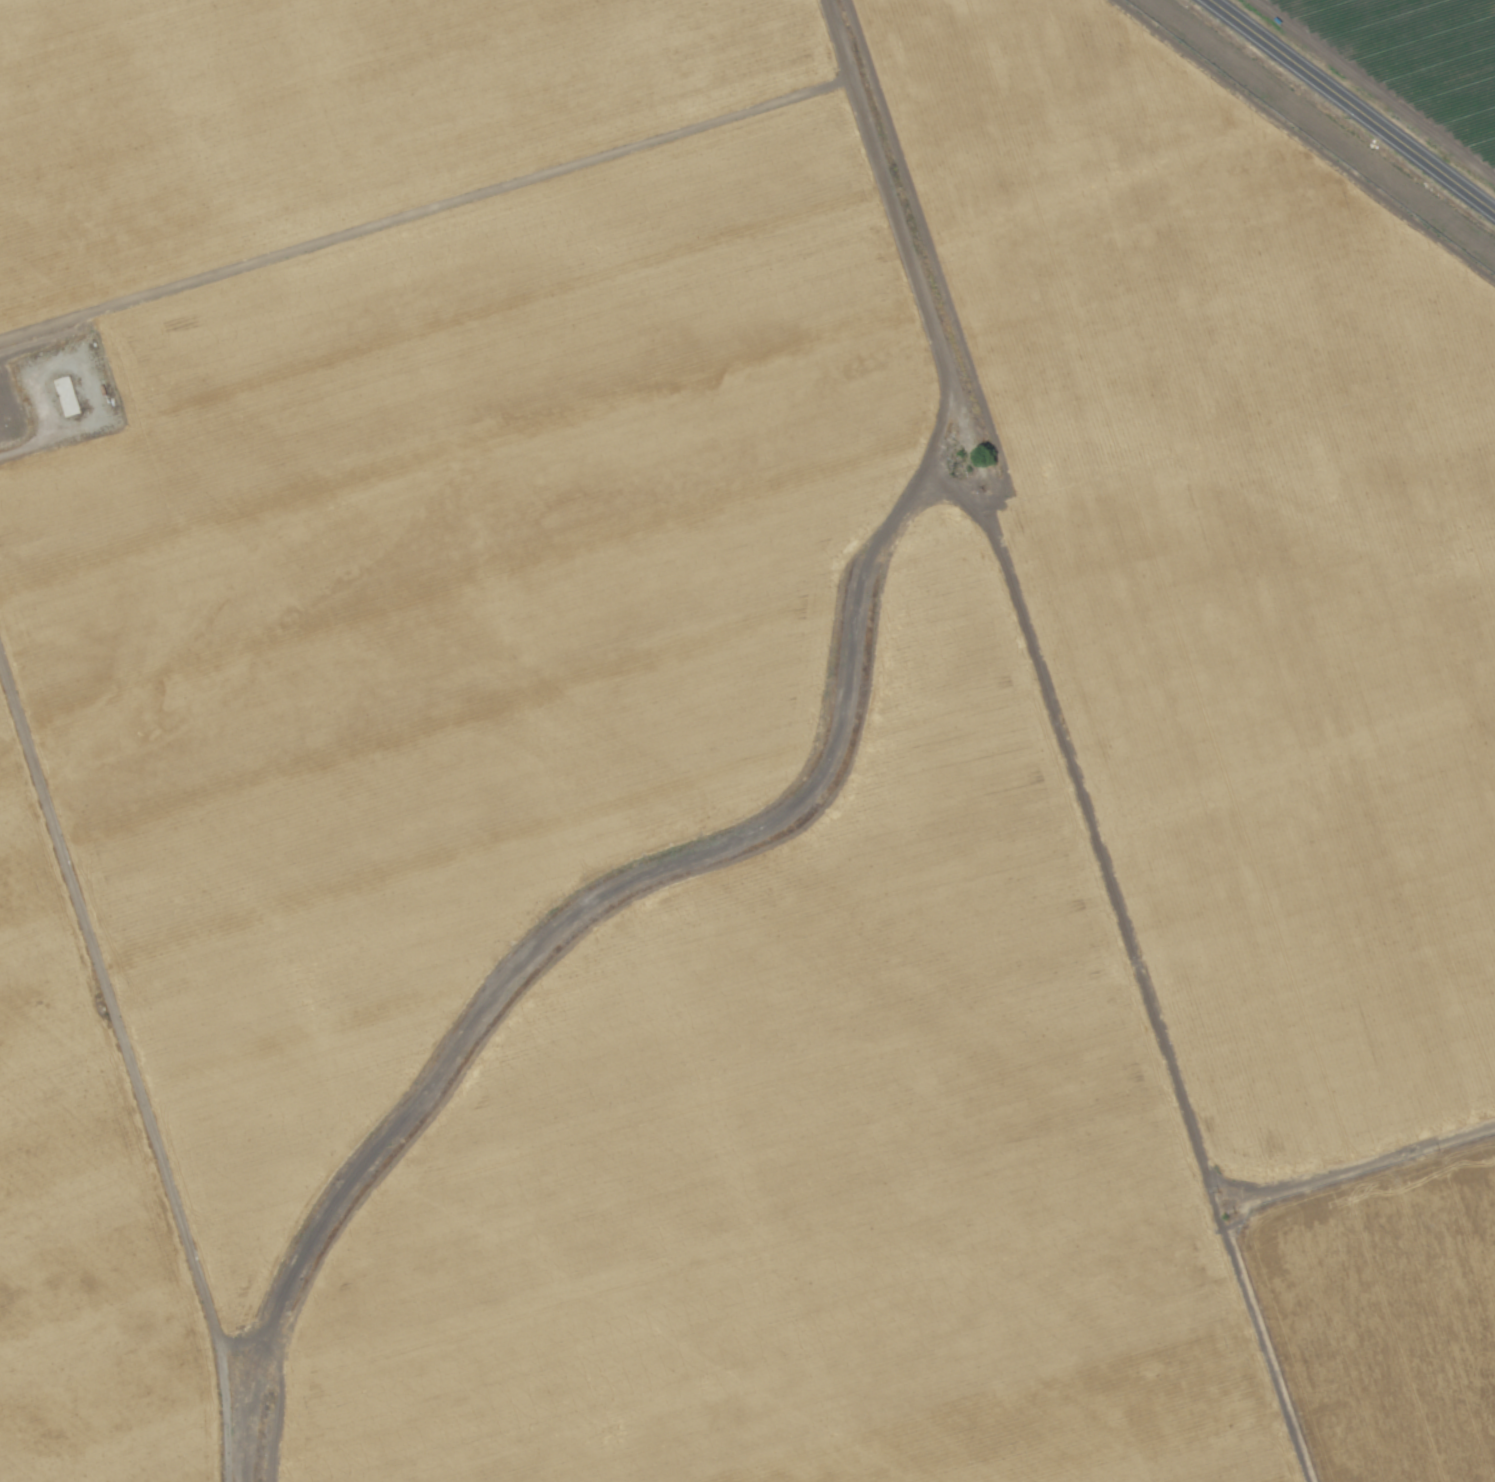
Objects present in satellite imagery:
road: (1352, 105)
building: (68, 397)
building: (89, 418)
crop: (747, 741)

